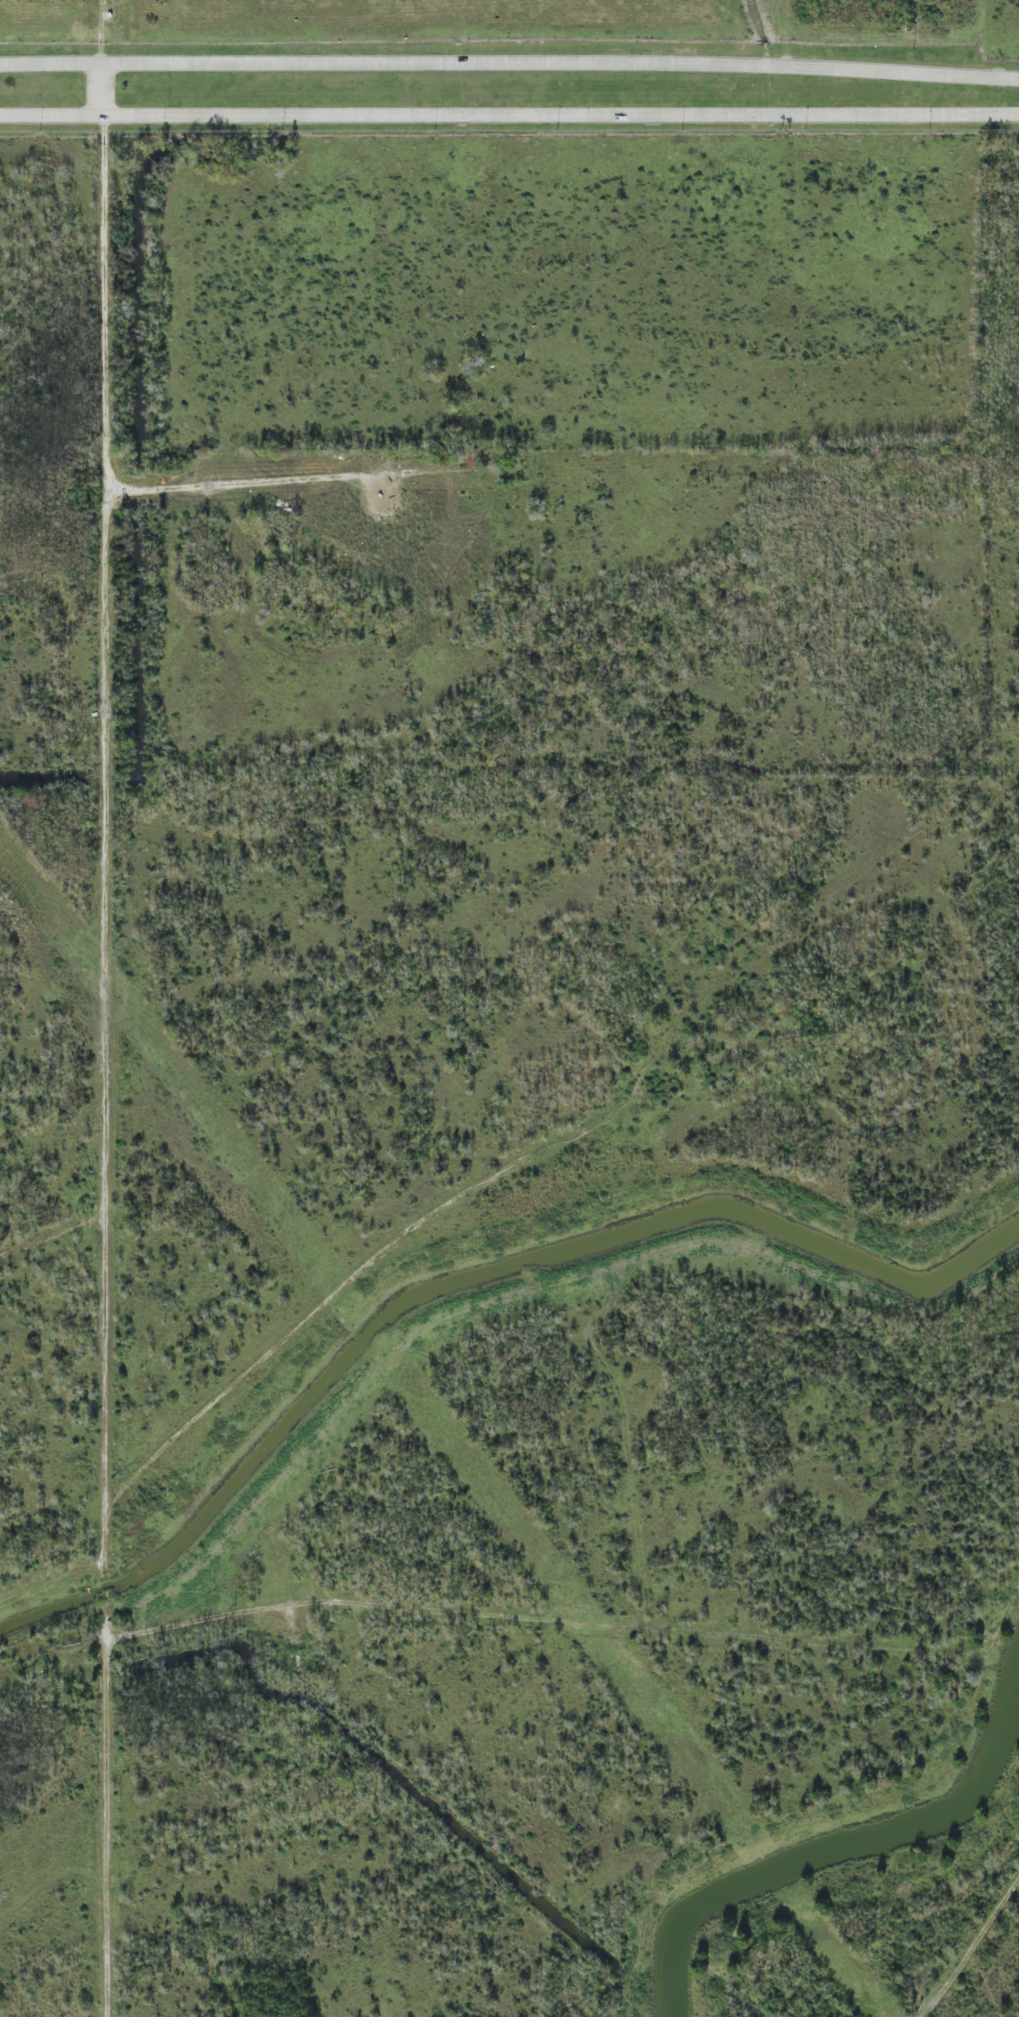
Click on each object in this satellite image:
road: (509, 62)
road: (509, 114)

